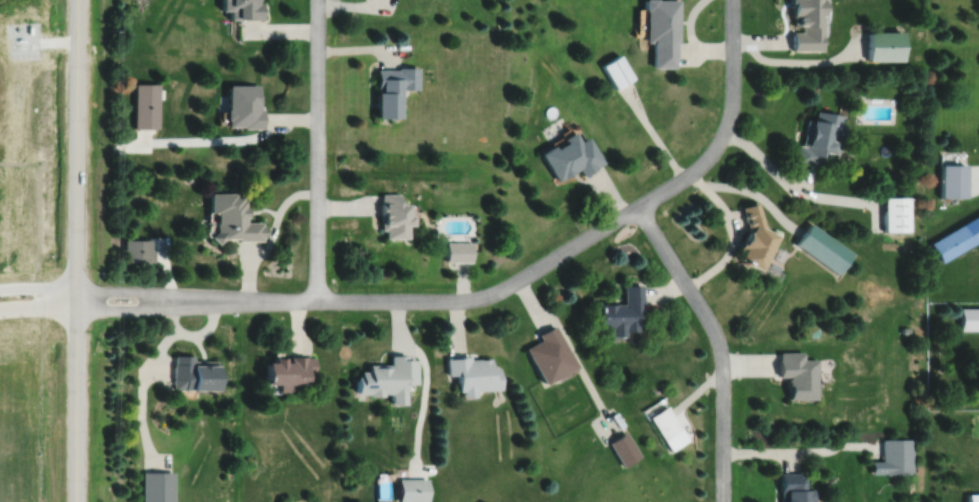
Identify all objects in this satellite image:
building: (242, 8)
building: (803, 24)
building: (658, 29)
building: (883, 45)
building: (615, 70)
building: (390, 89)
building: (144, 105)
building: (243, 106)
building: (818, 138)
road: (316, 149)
building: (569, 156)
building: (950, 180)
building: (895, 213)
building: (391, 216)
building: (231, 218)
road: (731, 231)
road: (655, 235)
building: (753, 238)
building: (956, 238)
building: (822, 249)
road: (75, 250)
building: (136, 251)
building: (457, 251)
road: (37, 288)
road: (161, 291)
road: (454, 300)
road: (37, 307)
road: (161, 308)
building: (621, 308)
building: (969, 319)
building: (549, 352)
building: (288, 368)
building: (193, 371)
building: (471, 371)
building: (797, 375)
building: (386, 376)
building: (665, 421)
building: (624, 447)
building: (894, 456)
building: (156, 486)
building: (793, 487)
building: (411, 488)
building: (973, 497)

